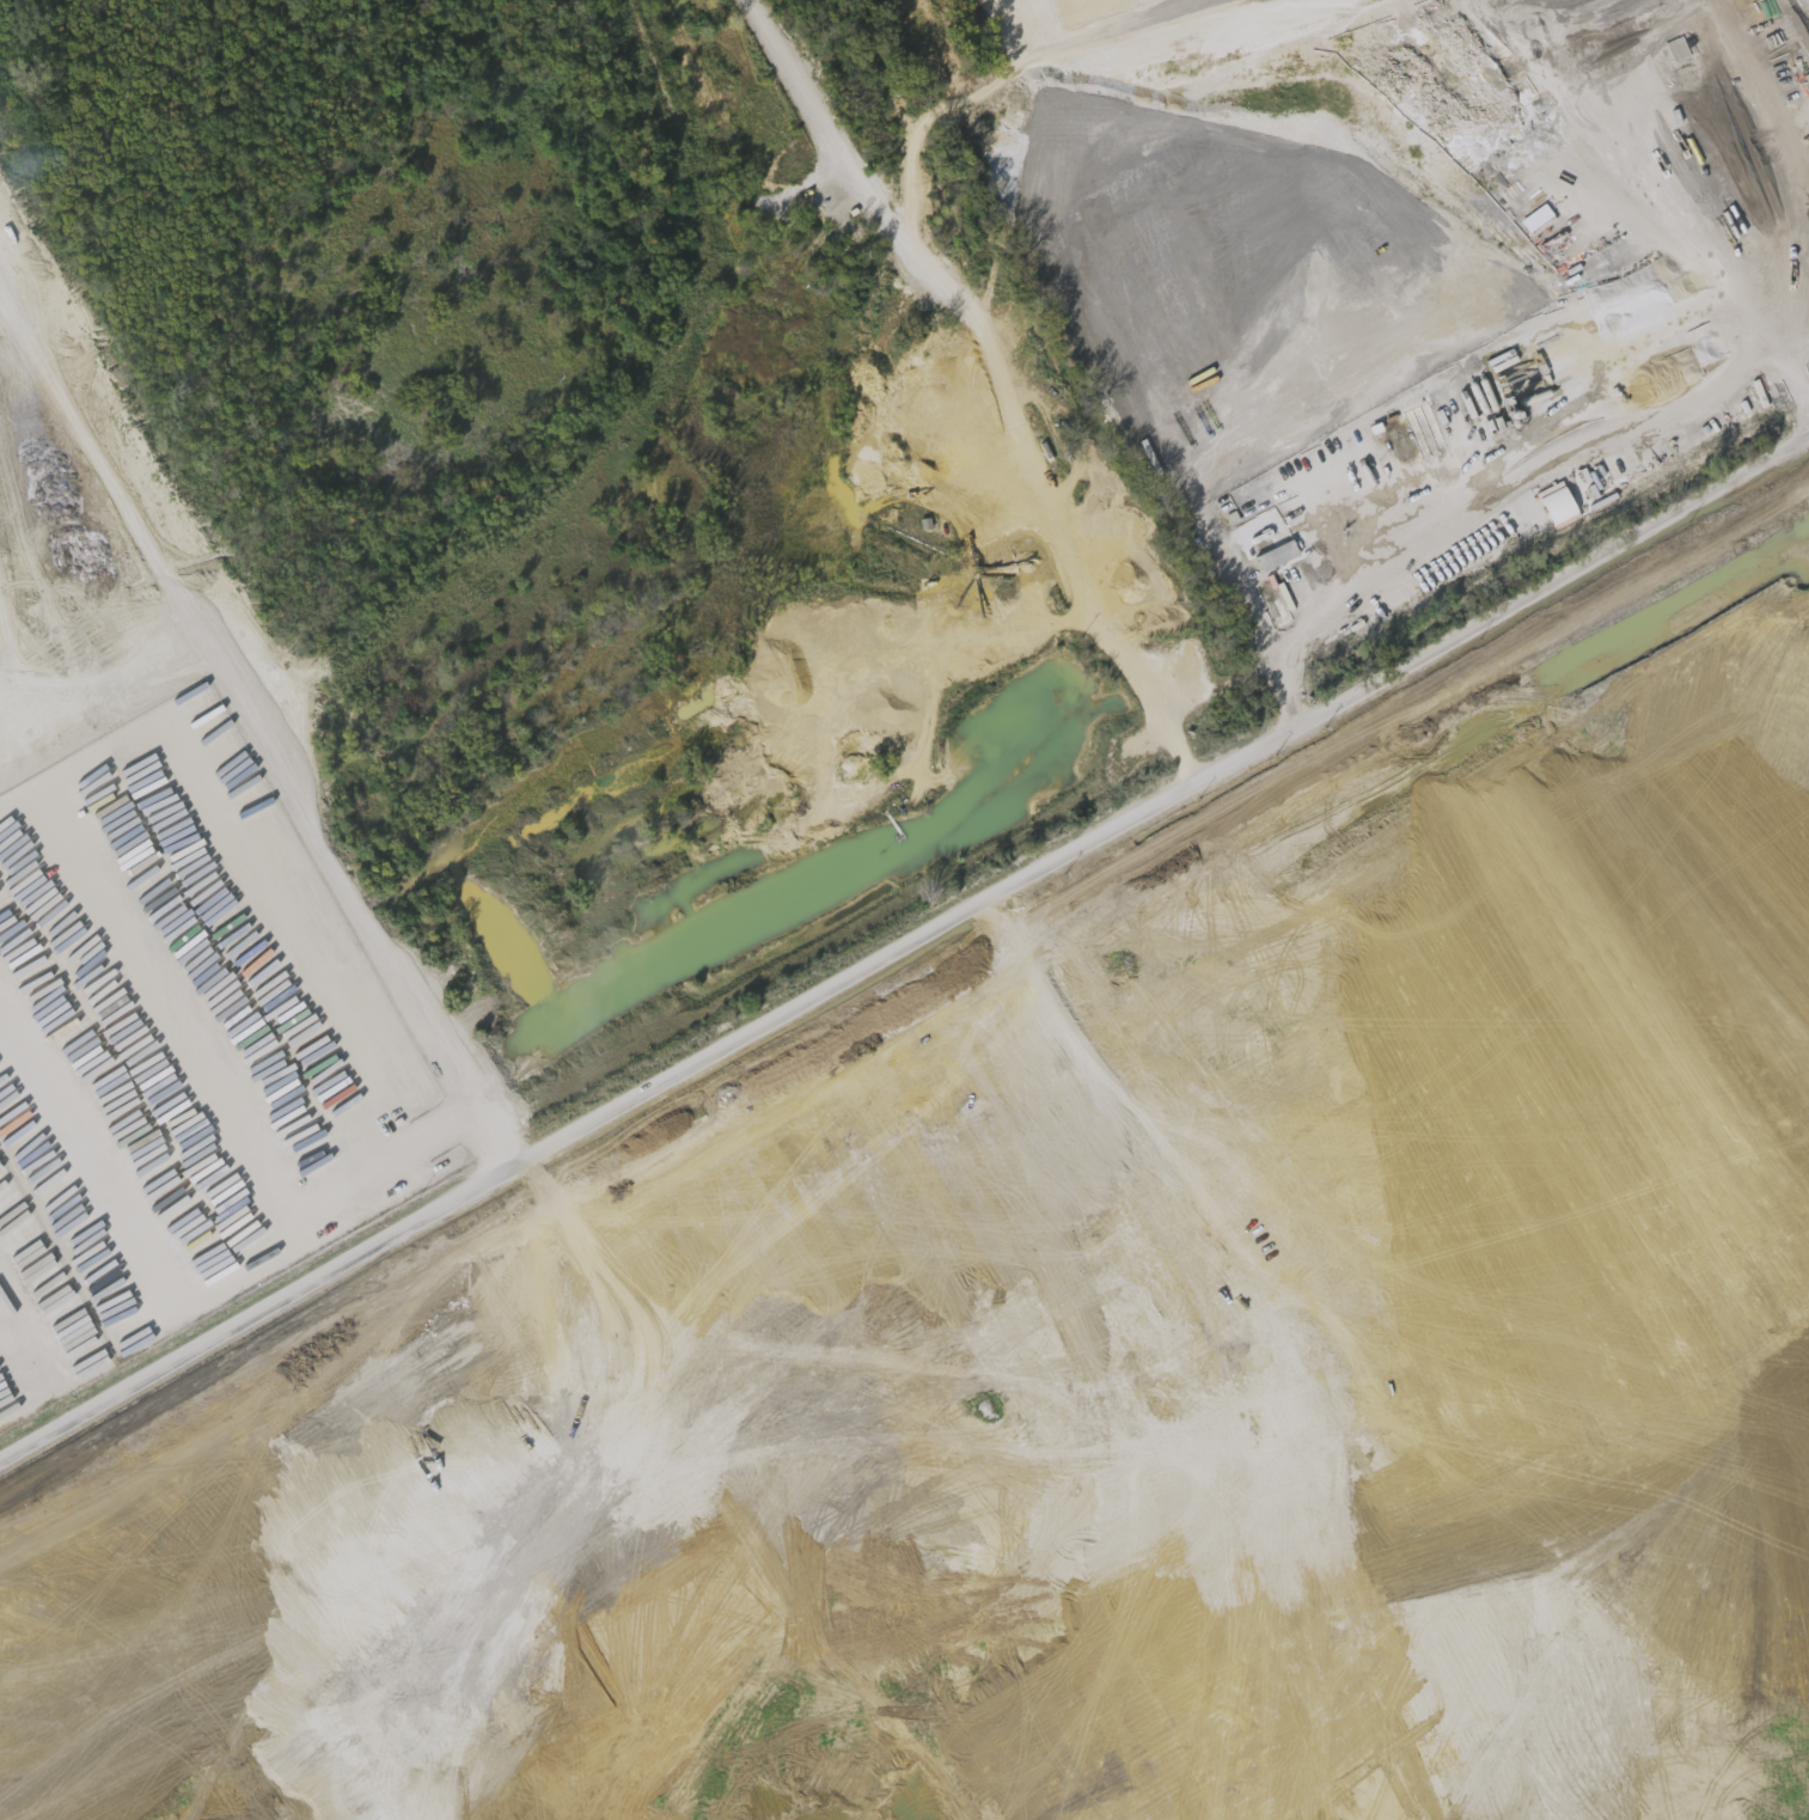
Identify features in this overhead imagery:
road: (998, 377)
road: (1504, 481)
road: (898, 952)
road: (136, 1718)

